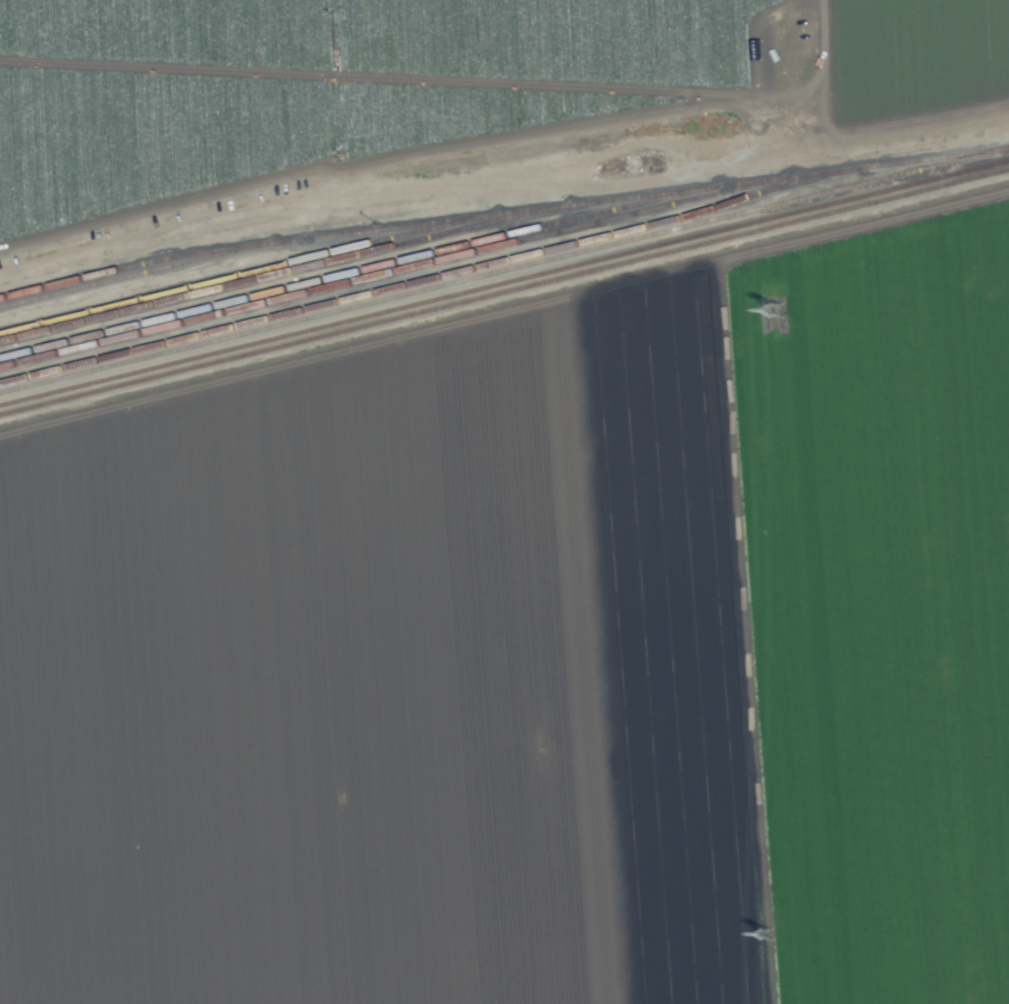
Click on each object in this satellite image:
crop: (421, 84)
railway: (235, 249)
railway: (344, 259)
railway: (504, 262)
railway: (385, 267)
railway: (416, 267)
railway: (120, 268)
railway: (271, 268)
railway: (504, 269)
railway: (504, 283)
railway: (504, 292)
power tower: (779, 311)
crop: (534, 653)
power tower: (767, 935)

